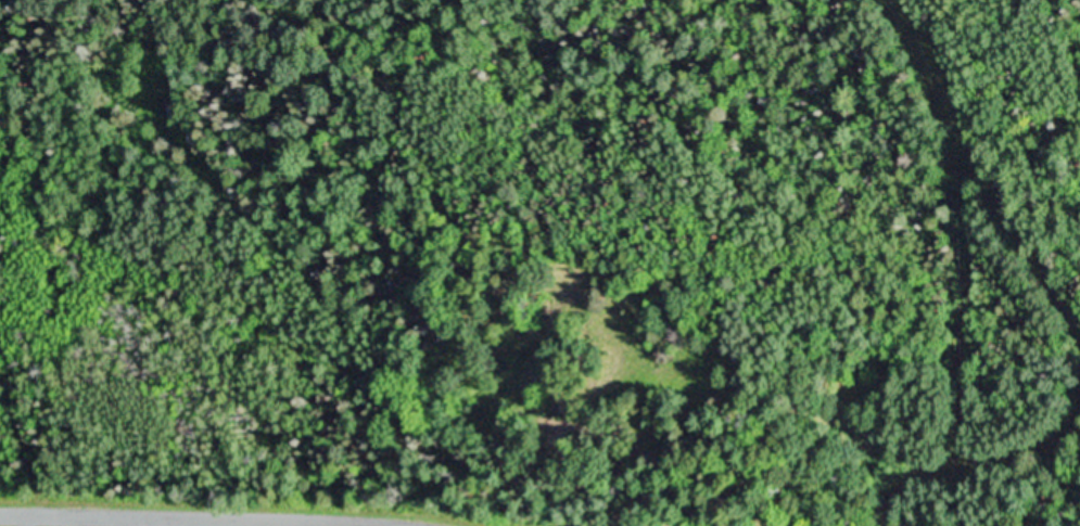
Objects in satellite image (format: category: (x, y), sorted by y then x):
road: (983, 174)
road: (17, 425)
road: (978, 466)
road: (202, 516)

